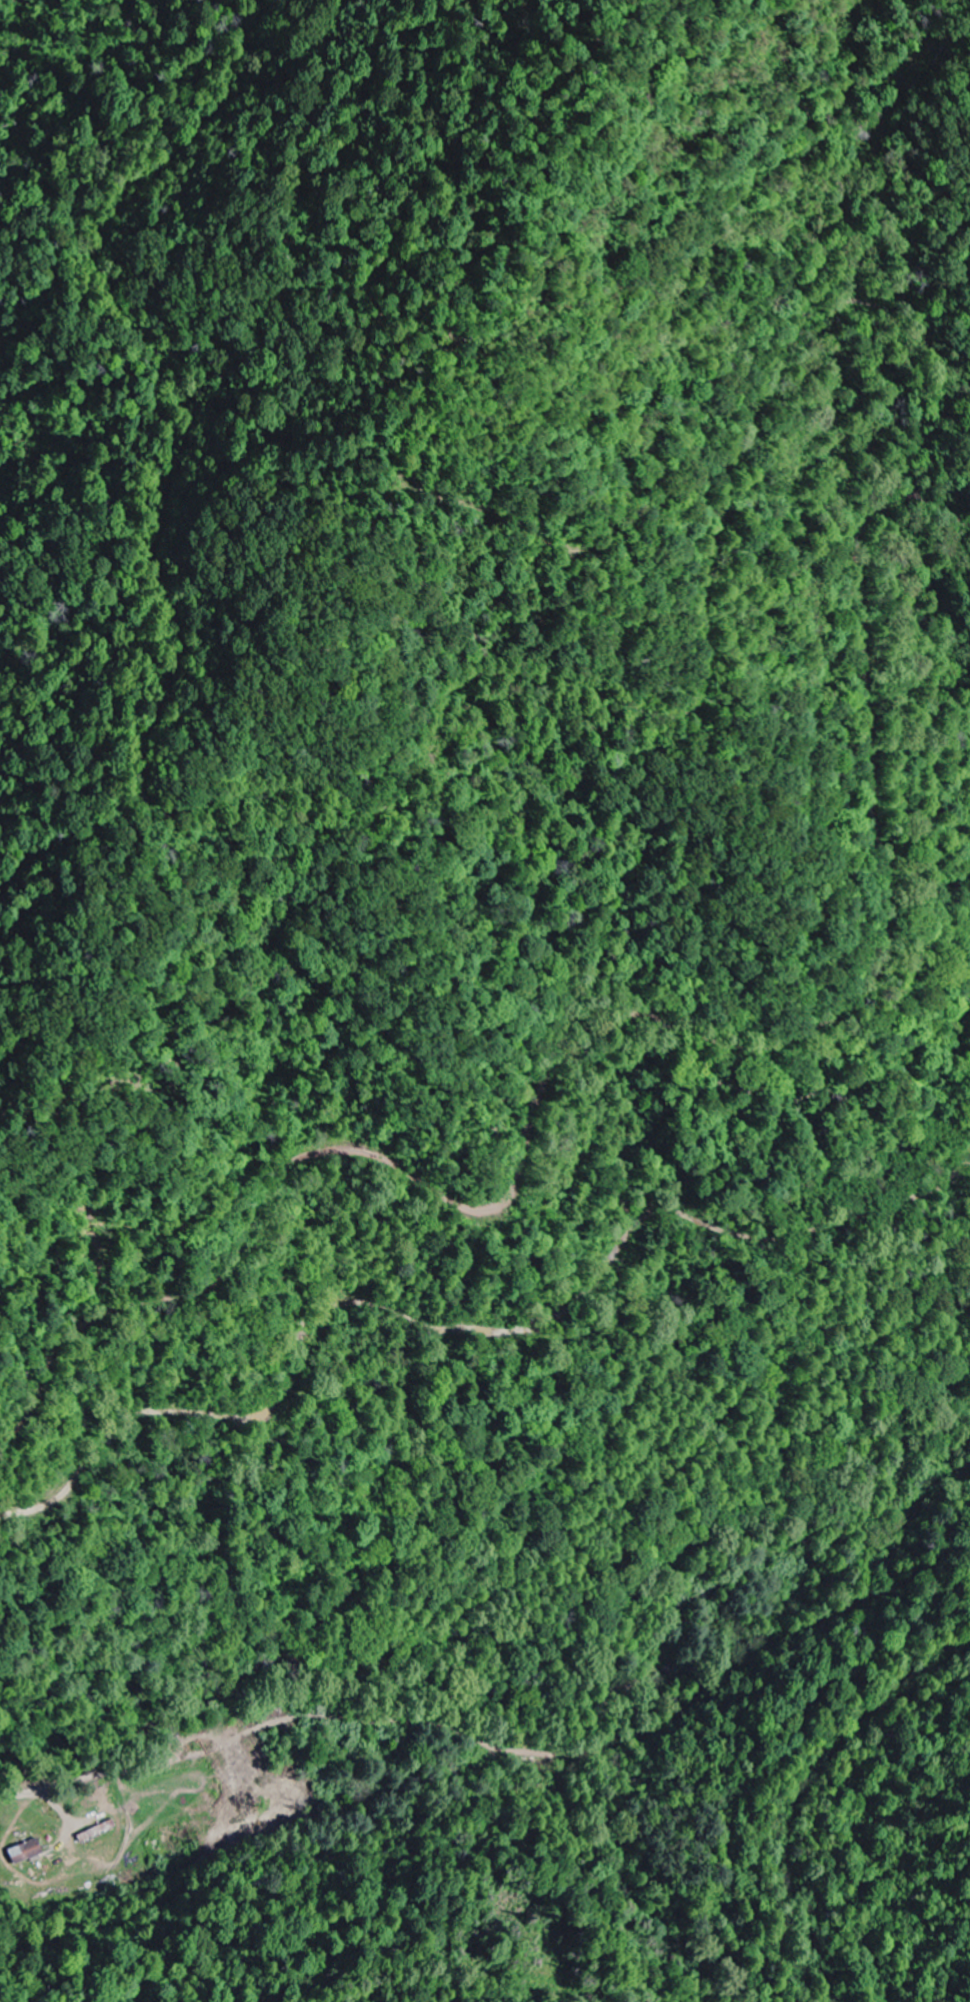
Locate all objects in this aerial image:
building: (96, 1831)
building: (24, 1852)

